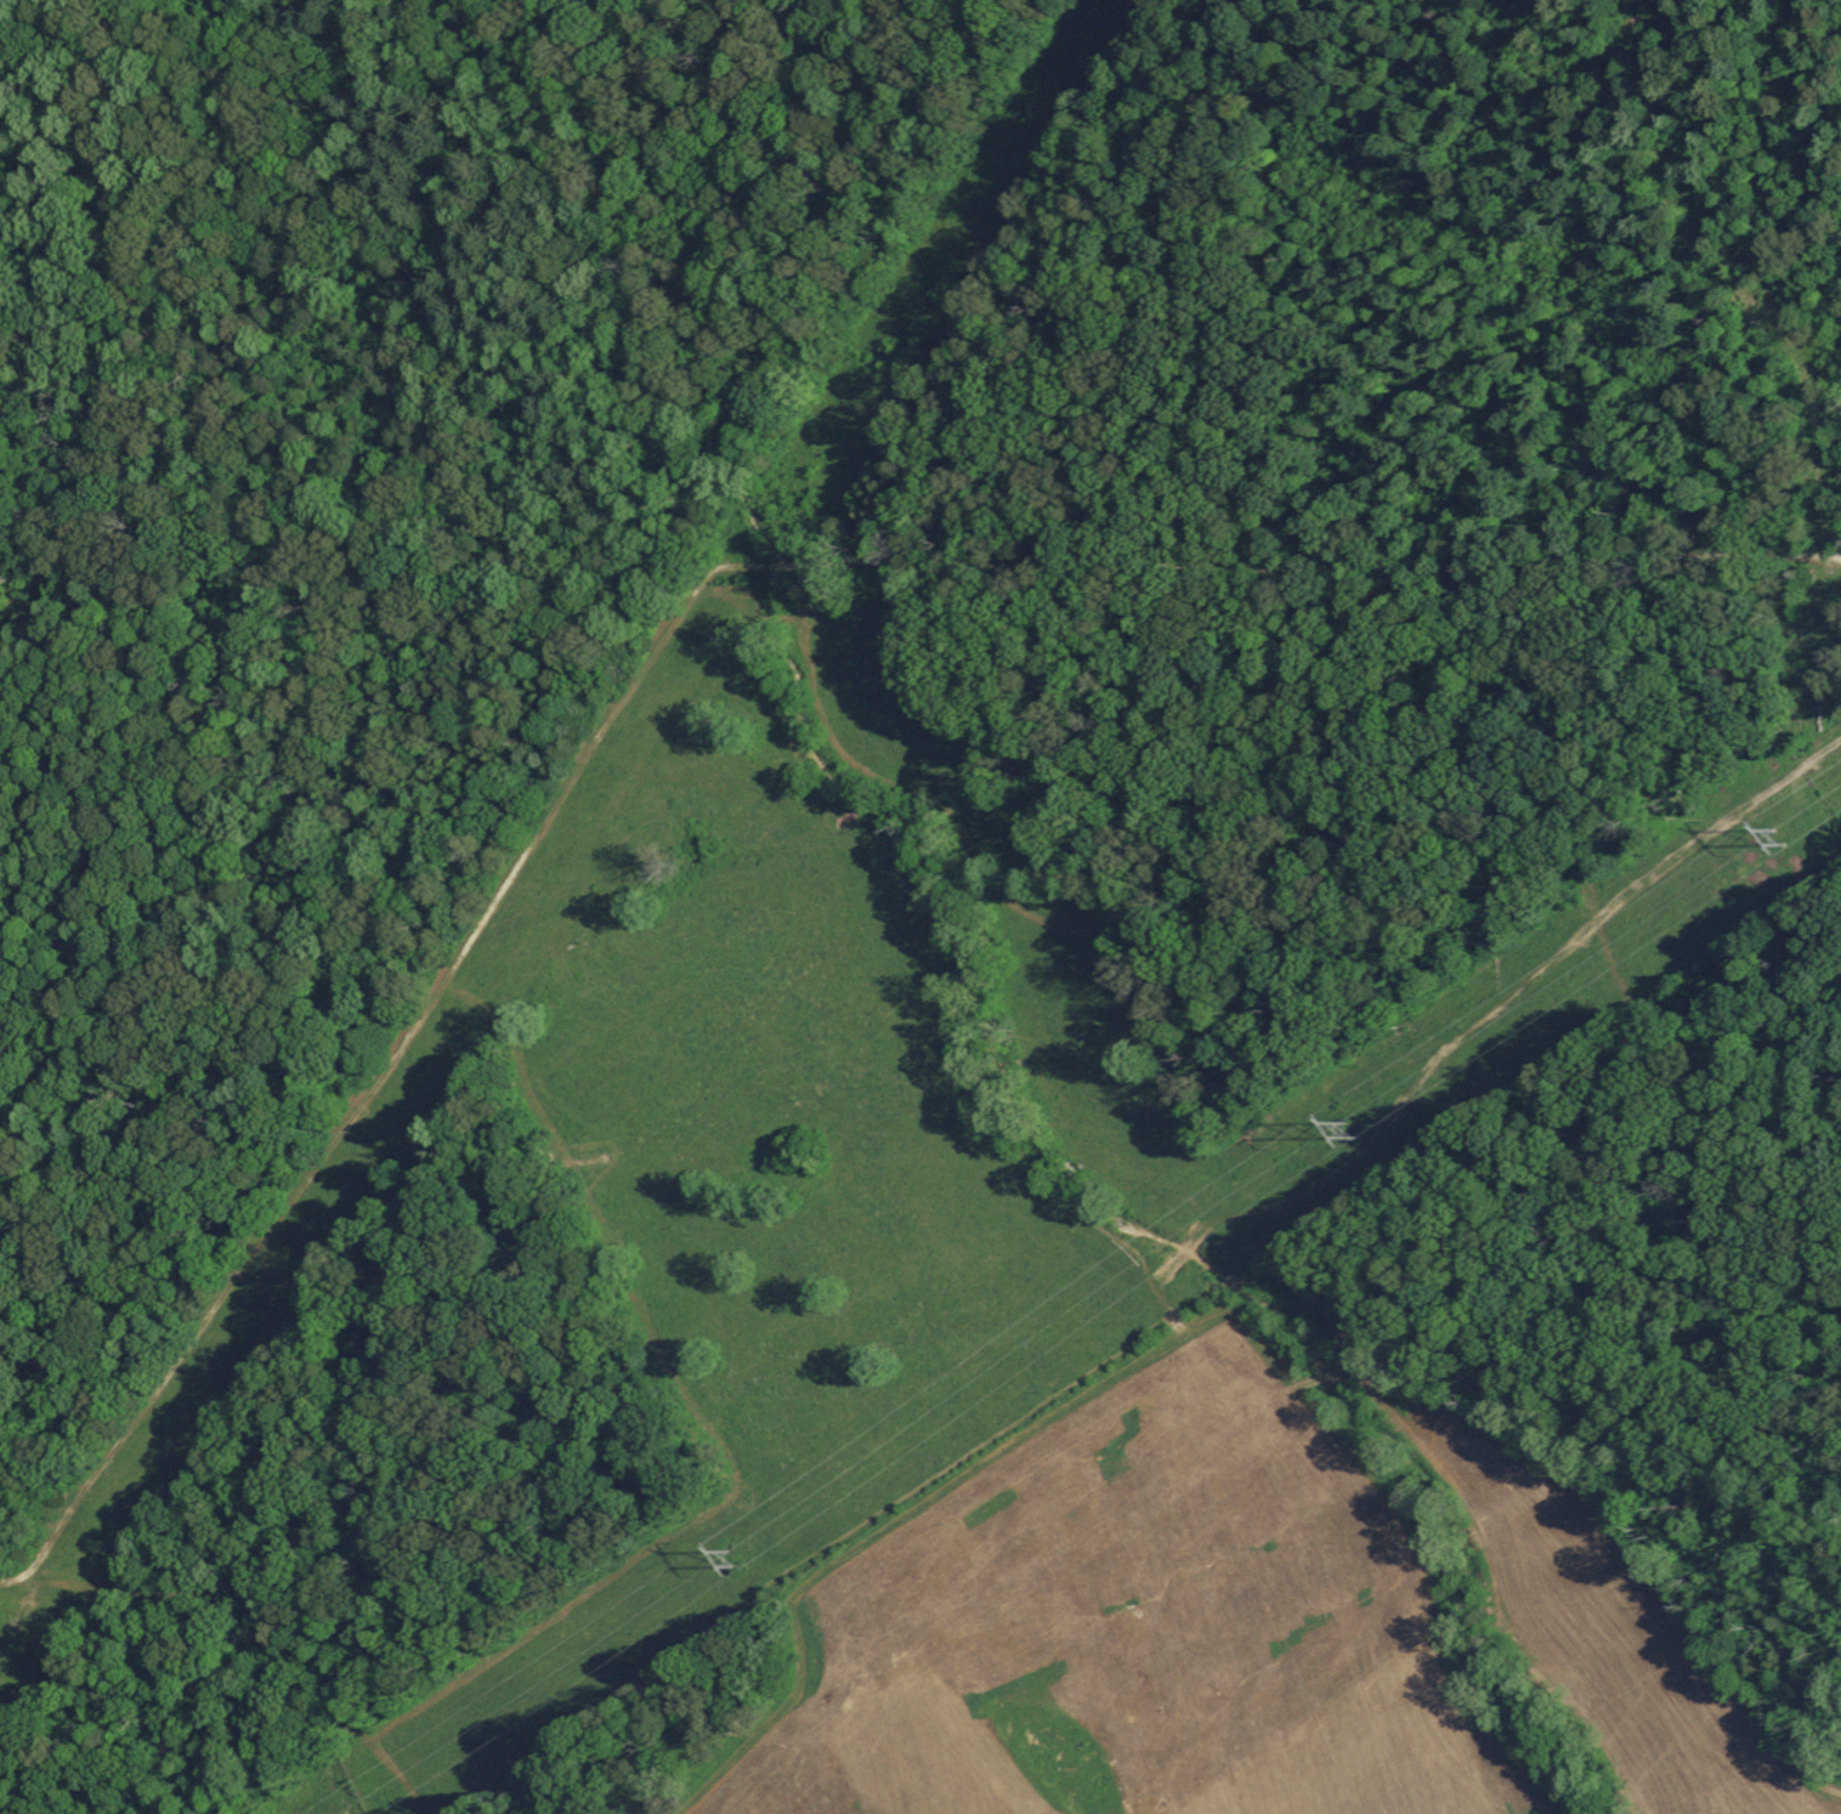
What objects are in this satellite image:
road: (1764, 555)
power tower: (1772, 834)
road: (860, 1042)
power tower: (1349, 1128)
power tower: (729, 1554)
road: (245, 1625)

